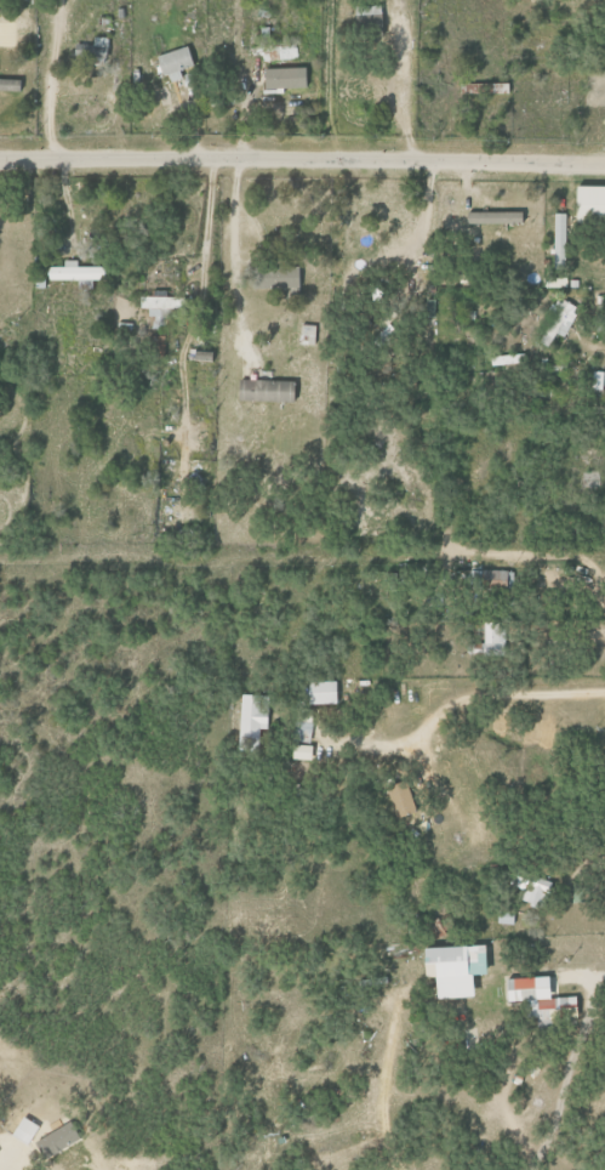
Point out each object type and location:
building: (8, 21)
building: (90, 49)
building: (173, 62)
road: (242, 78)
building: (284, 78)
road: (44, 81)
building: (10, 84)
road: (396, 86)
building: (485, 87)
road: (302, 158)
building: (588, 201)
building: (491, 217)
building: (558, 238)
road: (228, 259)
building: (73, 273)
building: (285, 277)
building: (158, 306)
building: (429, 306)
building: (559, 323)
building: (306, 334)
building: (158, 345)
building: (199, 354)
building: (504, 359)
building: (597, 380)
building: (264, 391)
building: (489, 577)
building: (491, 637)
building: (321, 692)
road: (452, 703)
building: (253, 716)
building: (303, 729)
building: (302, 751)
building: (400, 799)
building: (530, 890)
building: (451, 969)
building: (537, 999)
road: (561, 1069)
road: (376, 1087)
building: (24, 1131)

